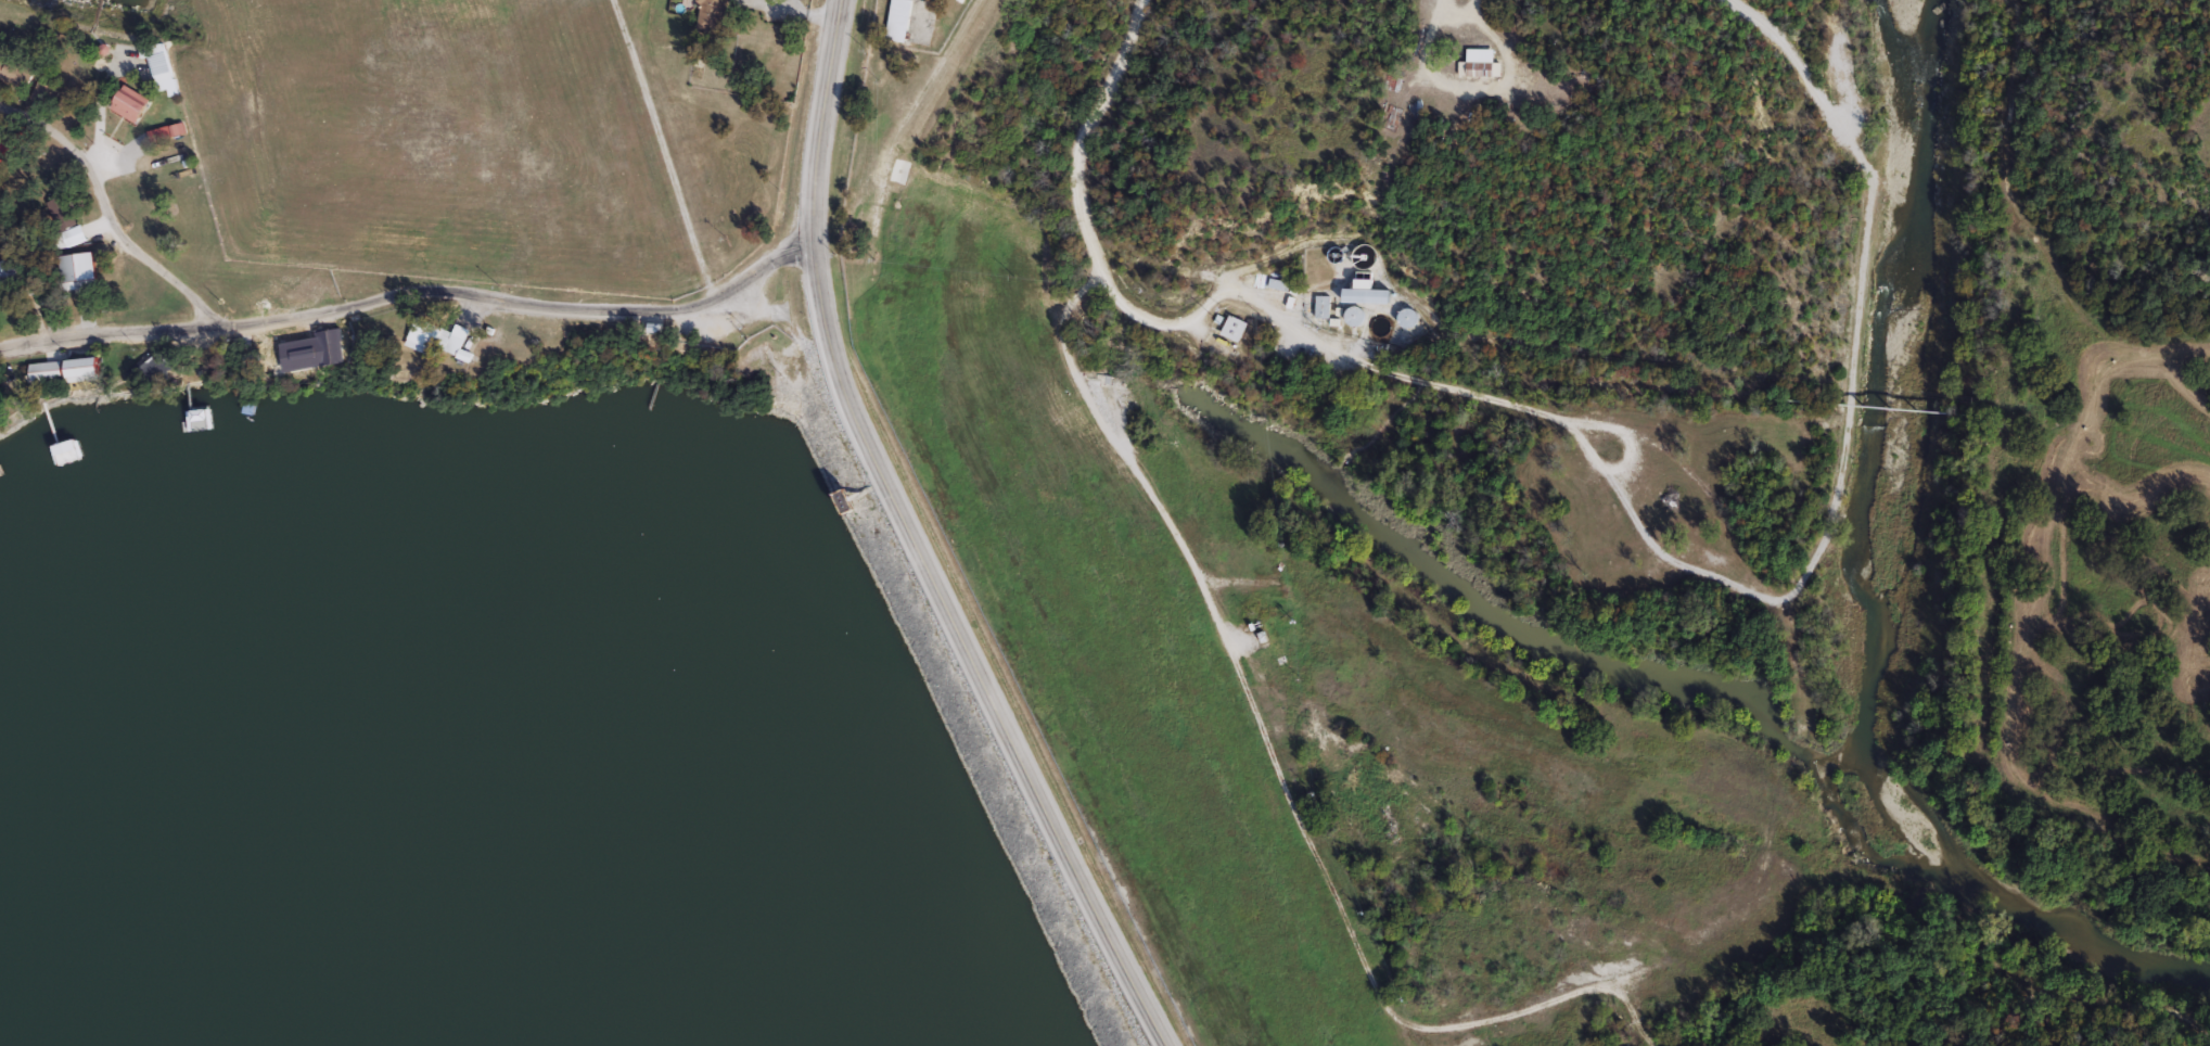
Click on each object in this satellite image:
building: (713, 15)
building: (898, 20)
road: (807, 21)
building: (1477, 62)
building: (162, 67)
building: (16, 69)
building: (44, 92)
building: (130, 102)
building: (9, 148)
road: (665, 150)
road: (112, 213)
building: (76, 234)
building: (79, 270)
road: (414, 293)
building: (1362, 293)
building: (450, 337)
building: (331, 340)
road: (2117, 342)
road: (2032, 355)
building: (152, 367)
building: (87, 368)
building: (48, 371)
road: (1393, 379)
building: (123, 443)
building: (851, 499)
road: (1153, 501)
road: (921, 541)
dam: (944, 729)
river: (1939, 896)

